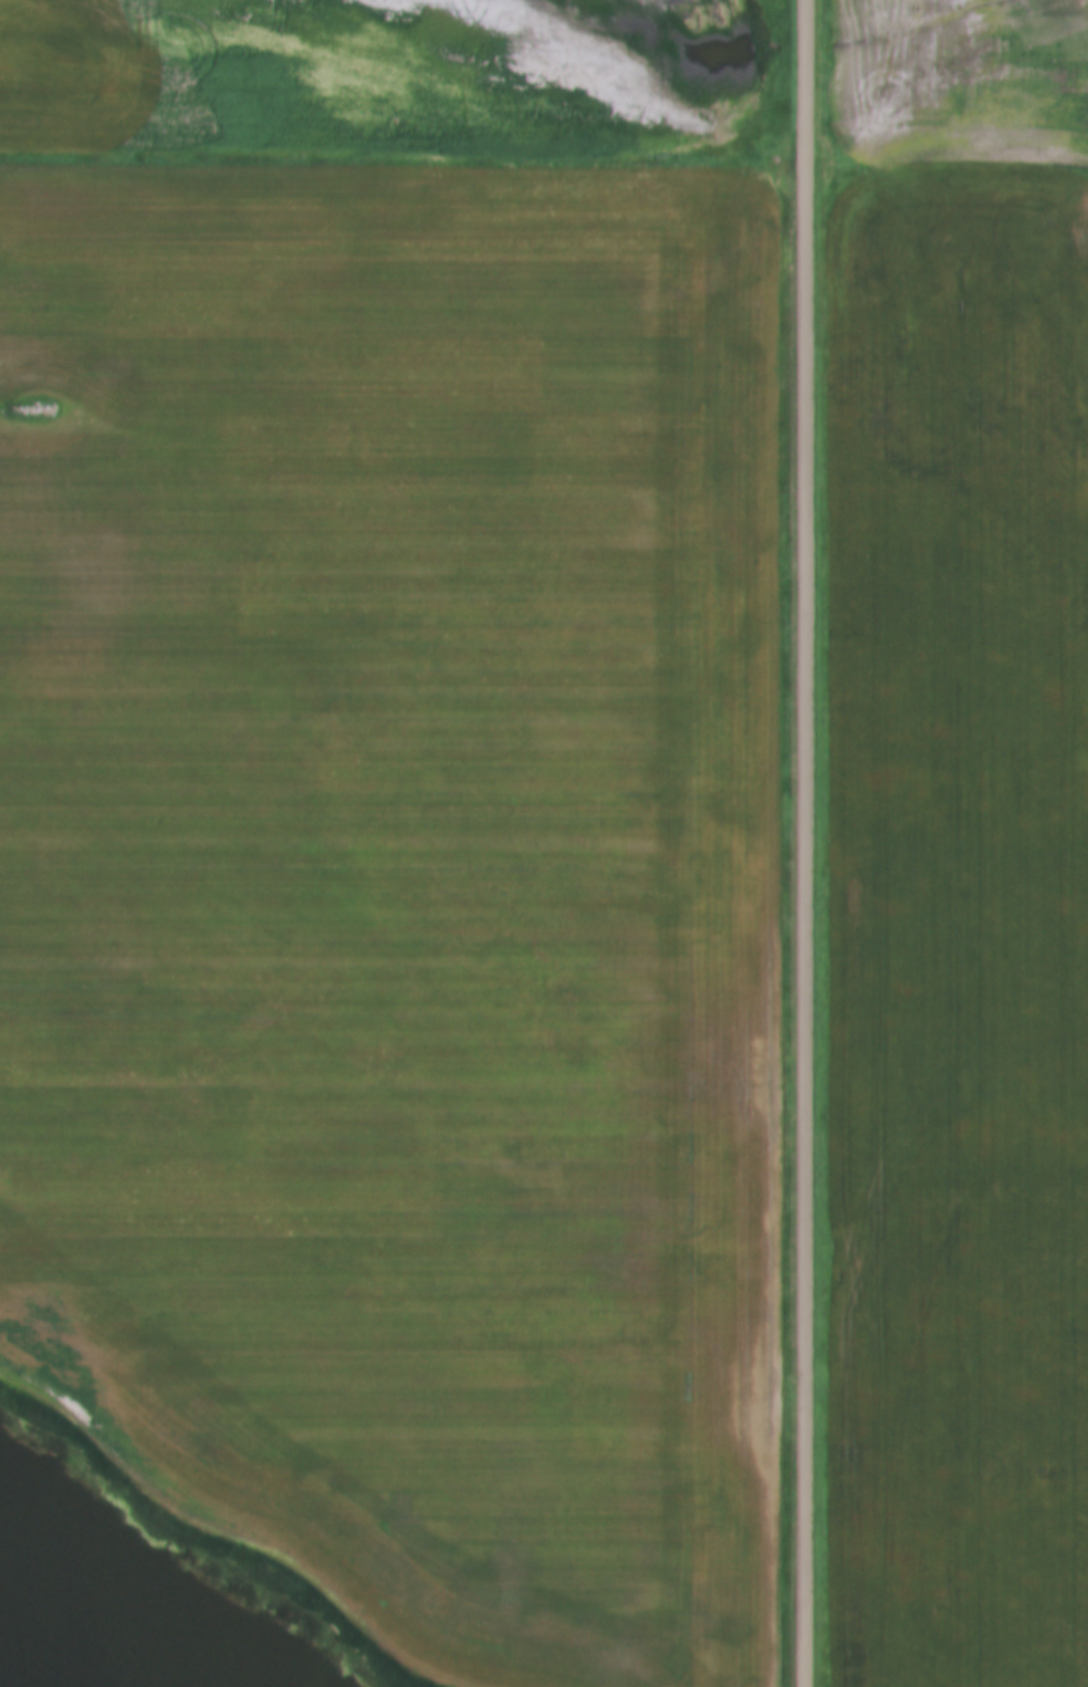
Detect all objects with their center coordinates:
road: (803, 843)

